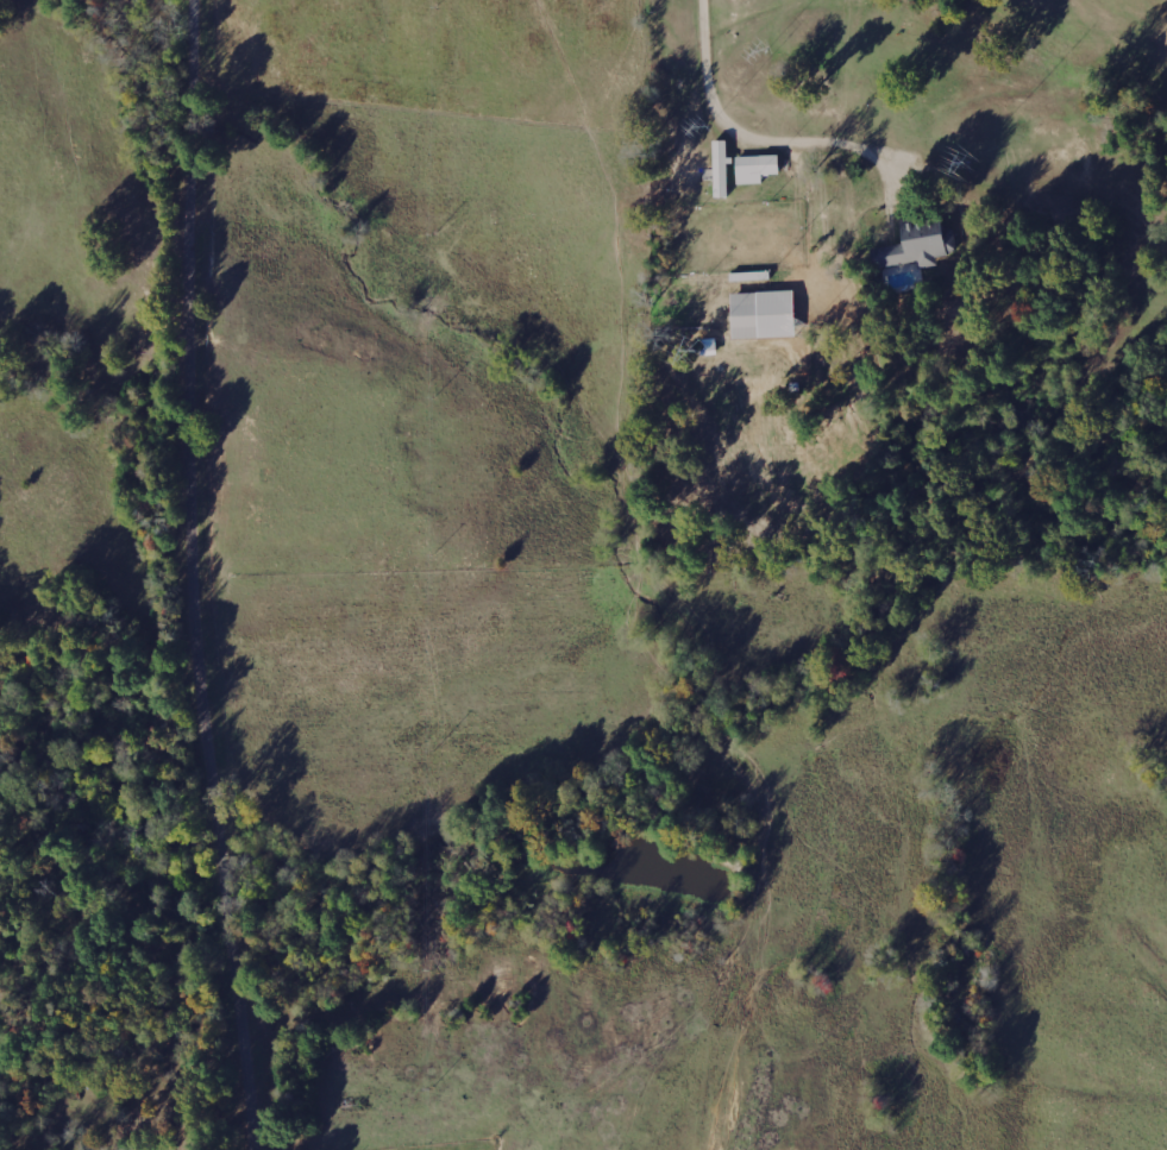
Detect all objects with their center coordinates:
building: (754, 168)
building: (720, 169)
building: (914, 245)
building: (760, 314)
road: (207, 576)

